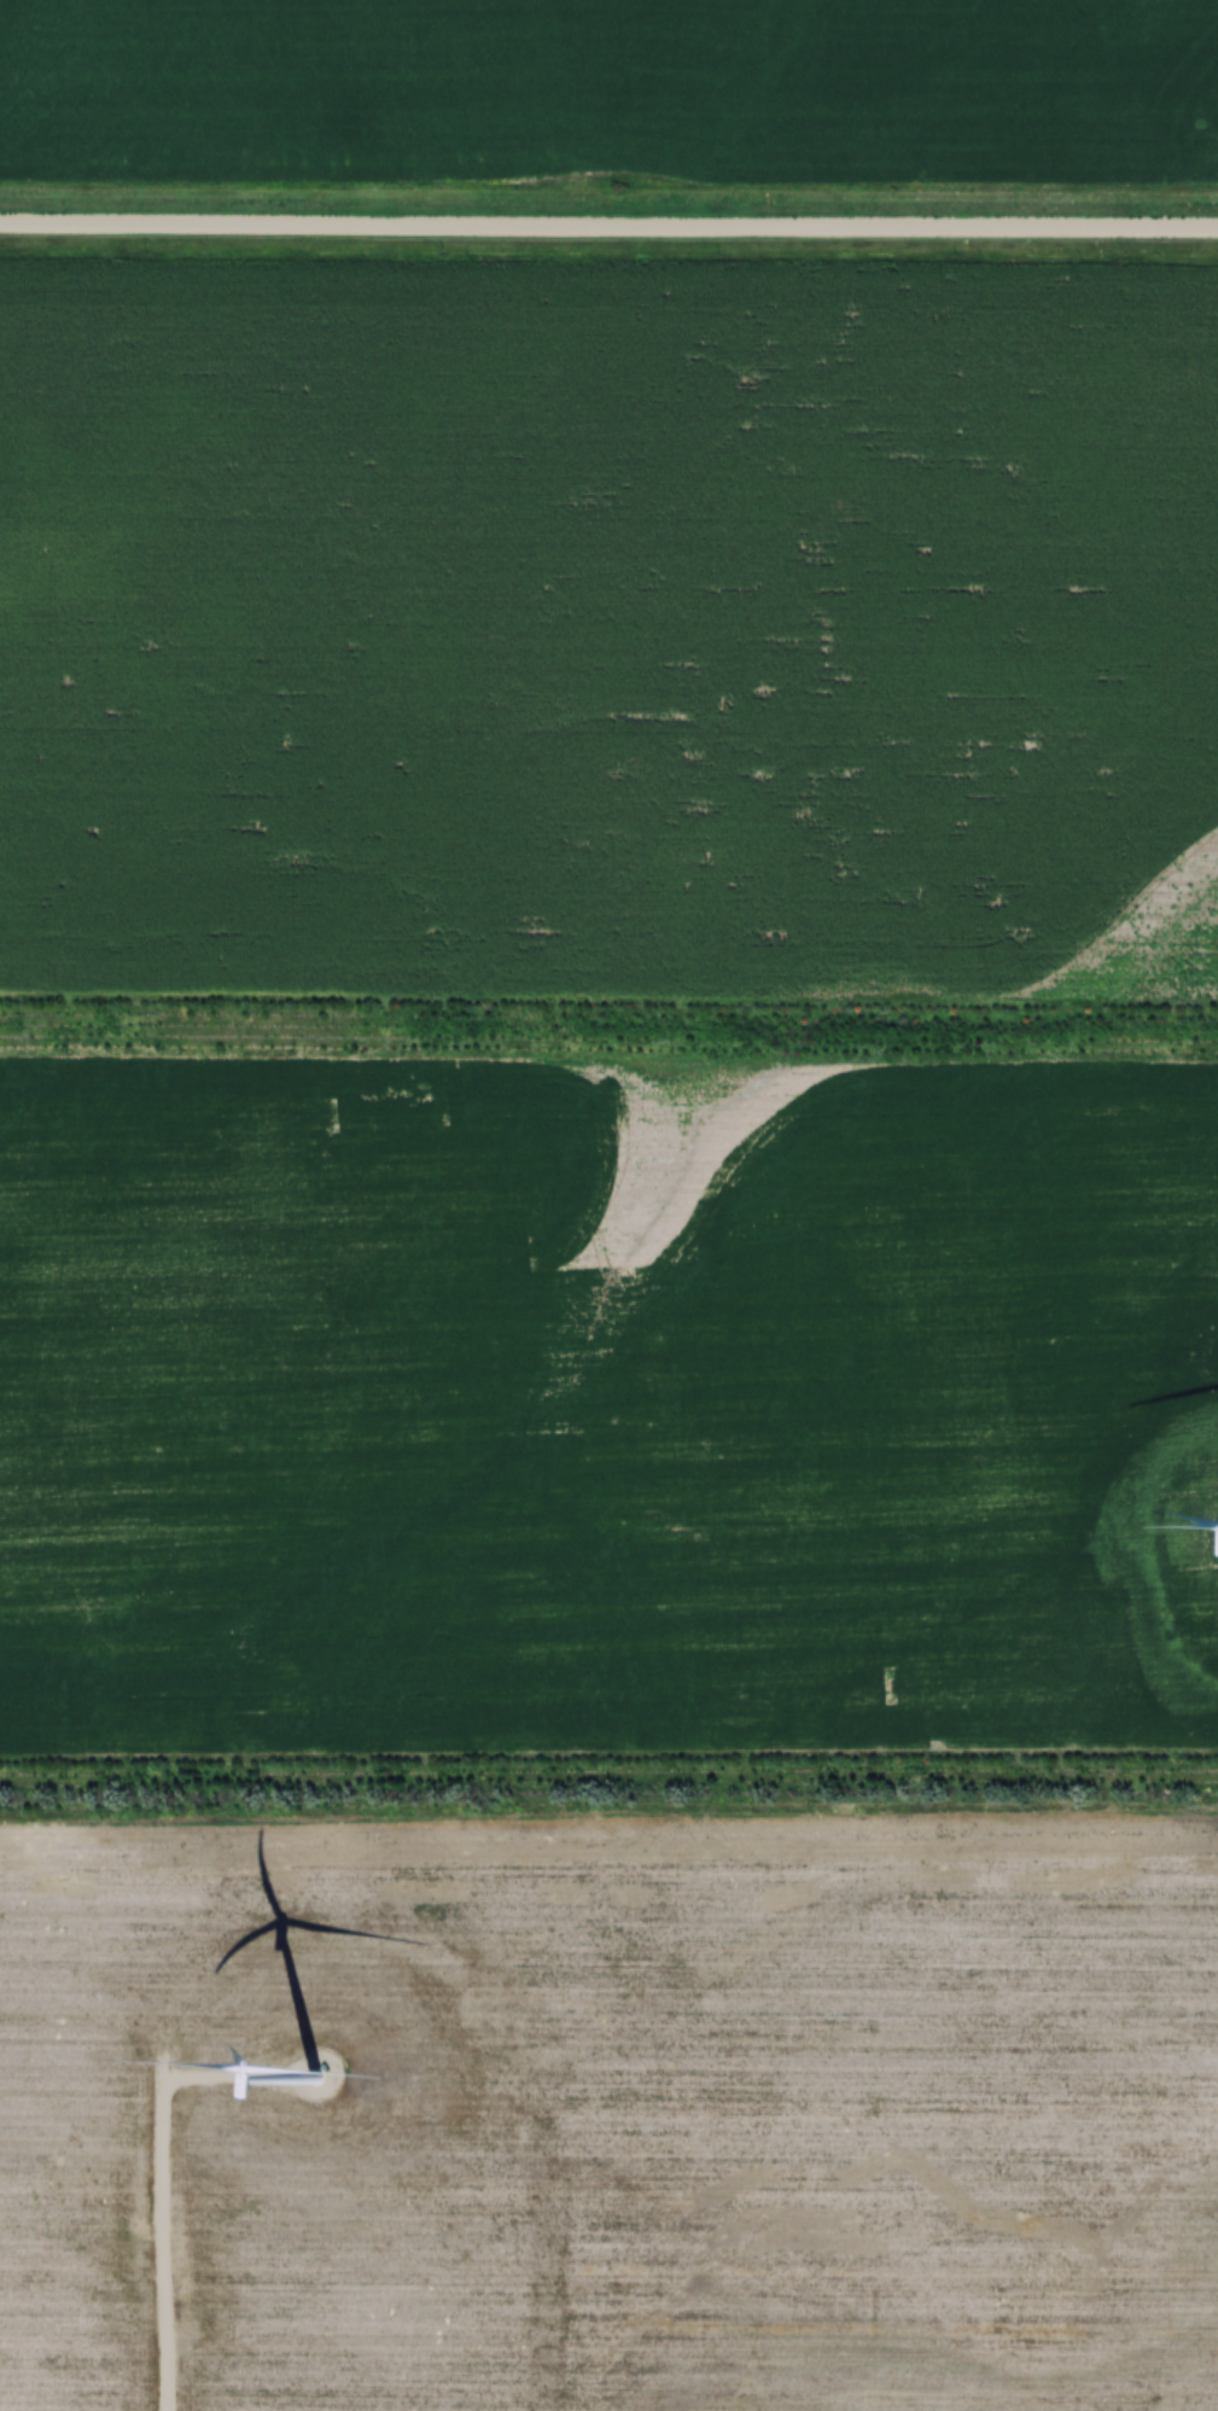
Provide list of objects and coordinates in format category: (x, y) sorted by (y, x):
road: (608, 215)
wind turbine: (302, 2062)
road: (157, 2183)

